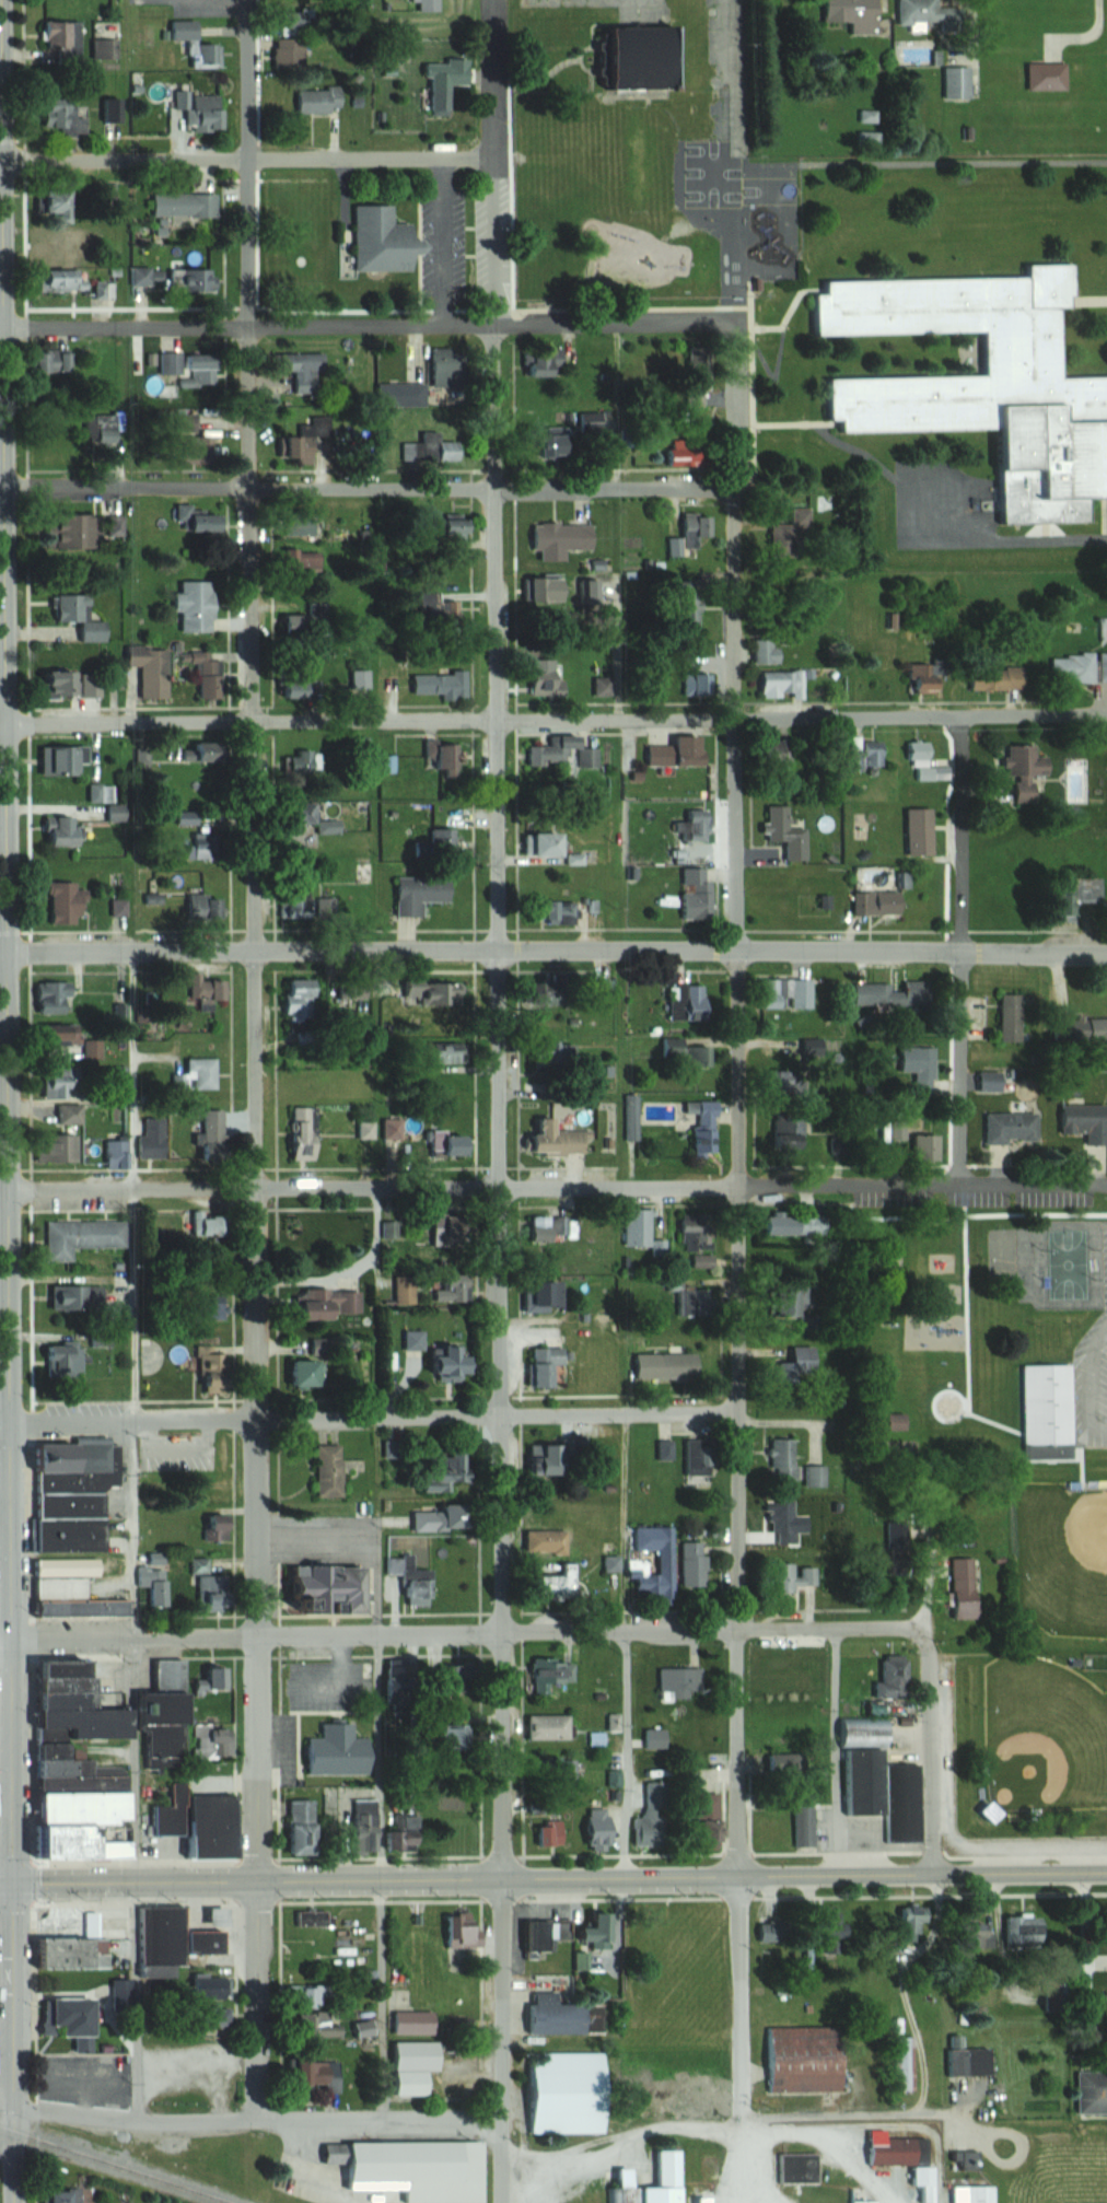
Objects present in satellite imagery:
building: (426, 4)
building: (927, 11)
building: (850, 12)
road: (1085, 34)
building: (66, 39)
building: (199, 45)
building: (292, 53)
building: (1042, 75)
building: (433, 79)
building: (955, 82)
building: (323, 101)
building: (112, 109)
building: (210, 112)
building: (68, 116)
road: (248, 160)
road: (1, 175)
building: (62, 202)
building: (188, 205)
building: (374, 240)
road: (441, 242)
building: (198, 280)
building: (68, 281)
road: (369, 328)
road: (2, 330)
building: (58, 362)
building: (537, 363)
building: (194, 368)
building: (298, 369)
building: (984, 383)
building: (398, 396)
building: (112, 422)
building: (207, 440)
building: (299, 443)
building: (543, 444)
building: (427, 452)
building: (667, 455)
road: (370, 487)
road: (2, 490)
building: (197, 516)
building: (294, 521)
building: (791, 525)
building: (442, 527)
building: (79, 531)
building: (689, 531)
building: (557, 537)
road: (1005, 540)
building: (292, 557)
building: (540, 590)
building: (190, 604)
building: (314, 608)
building: (683, 610)
building: (84, 616)
building: (441, 616)
building: (764, 653)
building: (1077, 667)
building: (148, 668)
building: (358, 678)
building: (544, 679)
building: (993, 679)
building: (920, 680)
building: (293, 683)
building: (777, 683)
building: (435, 684)
building: (65, 685)
building: (695, 685)
road: (557, 721)
road: (3, 723)
building: (548, 751)
building: (672, 753)
building: (864, 754)
building: (771, 757)
building: (917, 757)
building: (51, 759)
building: (296, 762)
building: (386, 764)
building: (1019, 770)
building: (184, 818)
building: (292, 818)
building: (689, 829)
building: (55, 830)
building: (781, 832)
building: (914, 832)
building: (441, 839)
building: (539, 846)
building: (361, 872)
building: (1084, 889)
building: (416, 891)
building: (692, 895)
building: (291, 898)
building: (57, 901)
building: (874, 904)
building: (197, 906)
building: (324, 907)
building: (548, 911)
road: (737, 936)
road: (500, 939)
road: (255, 940)
road: (8, 941)
road: (558, 952)
road: (963, 952)
road: (4, 955)
building: (348, 989)
building: (598, 990)
building: (294, 991)
building: (429, 991)
building: (765, 992)
building: (800, 992)
building: (889, 993)
building: (203, 994)
building: (50, 996)
building: (689, 1002)
building: (1007, 1016)
building: (1080, 1030)
building: (48, 1035)
building: (441, 1052)
building: (553, 1053)
building: (694, 1054)
building: (916, 1065)
road: (126, 1072)
building: (197, 1072)
building: (50, 1081)
building: (65, 1112)
building: (1082, 1121)
building: (1007, 1126)
building: (388, 1128)
building: (364, 1129)
building: (701, 1129)
building: (207, 1133)
building: (299, 1133)
building: (780, 1134)
building: (549, 1139)
building: (444, 1143)
building: (51, 1146)
building: (920, 1147)
building: (113, 1153)
road: (558, 1186)
road: (4, 1190)
building: (786, 1223)
building: (633, 1226)
building: (538, 1227)
building: (75, 1237)
building: (699, 1259)
building: (447, 1289)
building: (537, 1294)
building: (72, 1297)
building: (789, 1302)
building: (324, 1303)
road: (128, 1306)
building: (200, 1306)
building: (207, 1355)
building: (432, 1355)
building: (59, 1357)
building: (539, 1364)
building: (795, 1365)
building: (300, 1373)
road: (374, 1420)
building: (1045, 1421)
road: (4, 1425)
building: (545, 1458)
building: (780, 1458)
building: (692, 1459)
building: (326, 1470)
building: (435, 1473)
building: (813, 1476)
road: (5, 1515)
building: (429, 1519)
building: (780, 1522)
road: (624, 1525)
road: (133, 1530)
building: (65, 1534)
road: (359, 1540)
building: (541, 1541)
park: (1062, 1557)
building: (649, 1562)
building: (690, 1563)
building: (61, 1566)
building: (790, 1577)
building: (151, 1580)
building: (958, 1586)
building: (55, 1588)
building: (207, 1588)
building: (97, 1608)
road: (470, 1634)
road: (5, 1642)
building: (773, 1671)
building: (547, 1672)
building: (210, 1677)
building: (676, 1682)
road: (377, 1688)
building: (611, 1721)
building: (543, 1726)
building: (448, 1735)
park: (1044, 1736)
building: (653, 1737)
building: (333, 1750)
road: (835, 1751)
road: (627, 1755)
road: (931, 1756)
road: (5, 1760)
building: (773, 1761)
building: (552, 1765)
building: (857, 1782)
building: (82, 1811)
building: (801, 1816)
building: (702, 1819)
building: (295, 1827)
building: (590, 1827)
building: (546, 1832)
building: (398, 1834)
building: (359, 1839)
road: (559, 1876)
road: (5, 1883)
building: (907, 1920)
building: (1106, 1927)
building: (1021, 1928)
building: (590, 1930)
building: (526, 1935)
building: (974, 1935)
building: (817, 1938)
building: (457, 1939)
building: (81, 1953)
building: (1, 1970)
building: (203, 1986)
road: (895, 1986)
building: (303, 1994)
road: (375, 1998)
road: (743, 1998)
road: (260, 2000)
road: (130, 2002)
road: (7, 2009)
building: (82, 2017)
building: (564, 2018)
building: (1012, 2019)
building: (203, 2020)
building: (409, 2023)
building: (313, 2026)
building: (360, 2028)
road: (502, 2039)
road: (14, 2042)
building: (963, 2062)
building: (901, 2063)
building: (407, 2068)
building: (313, 2073)
building: (826, 2078)
road: (7, 2087)
building: (561, 2093)
building: (1089, 2094)
building: (691, 2100)
road: (924, 2112)
road: (257, 2121)
road: (621, 2138)
road: (830, 2142)
road: (7, 2145)
building: (887, 2152)
road: (749, 2163)
railway: (116, 2164)
building: (410, 2168)
building: (663, 2177)
building: (917, 2177)
building: (969, 2194)
building: (859, 2195)
building: (69, 2196)

